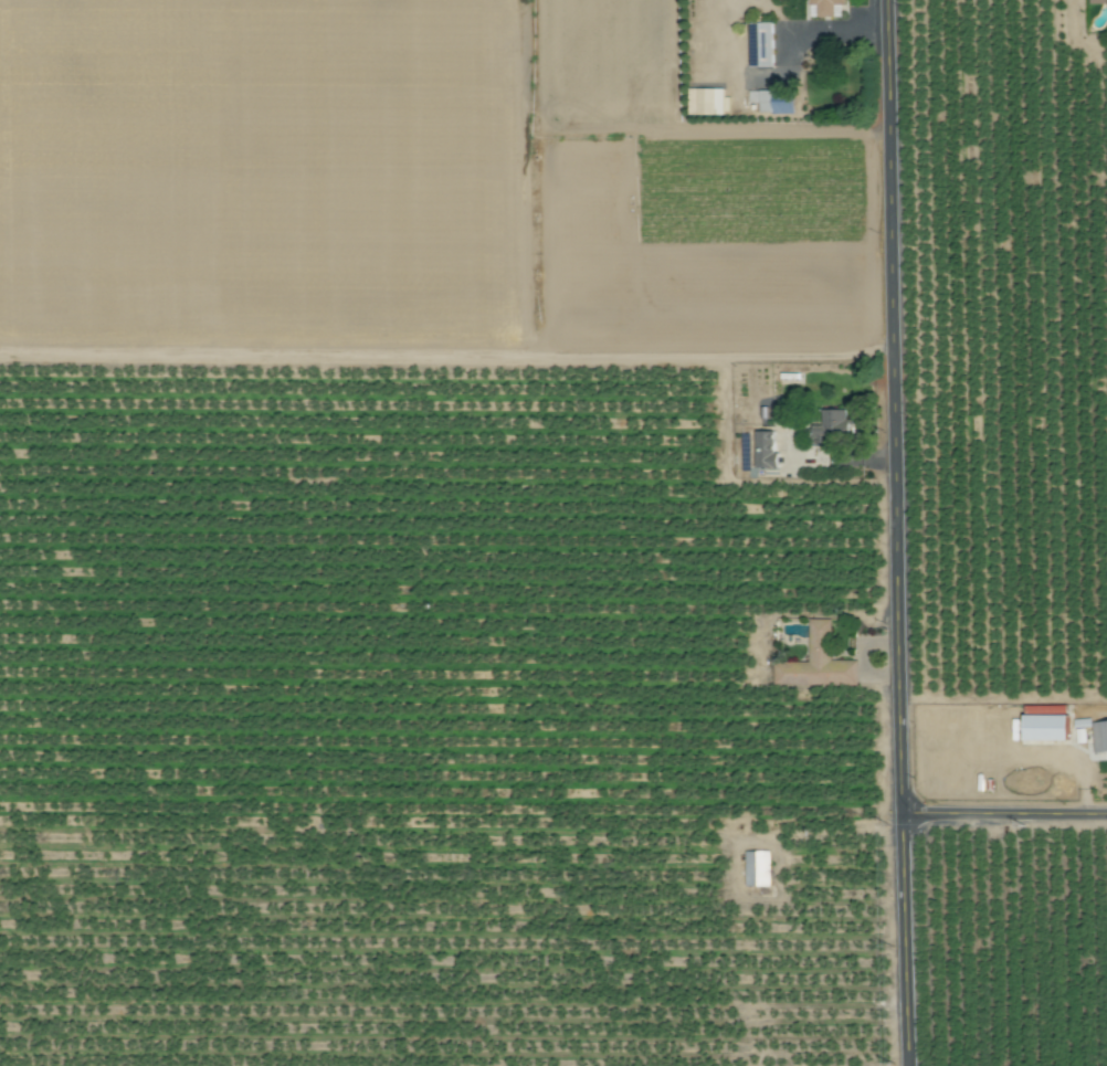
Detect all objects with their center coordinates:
building: (1096, 1)
building: (823, 8)
building: (761, 46)
building: (769, 103)
building: (835, 428)
building: (766, 450)
road: (898, 532)
building: (818, 663)
building: (1099, 738)
building: (1029, 756)
building: (968, 759)
road: (1005, 817)
building: (758, 869)

